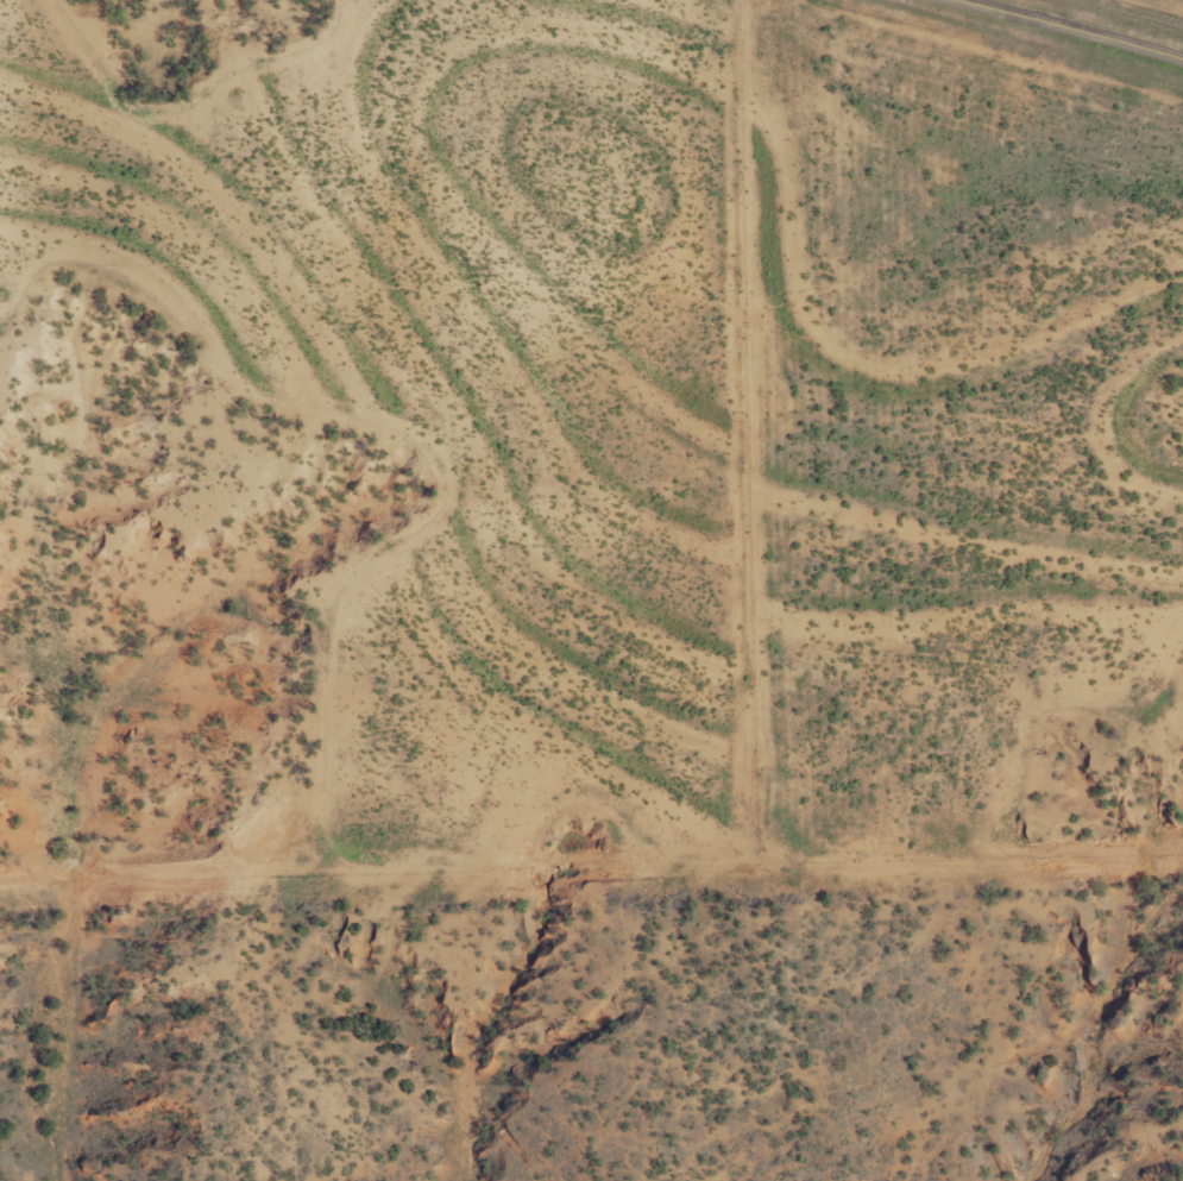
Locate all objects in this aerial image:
road: (1072, 29)

